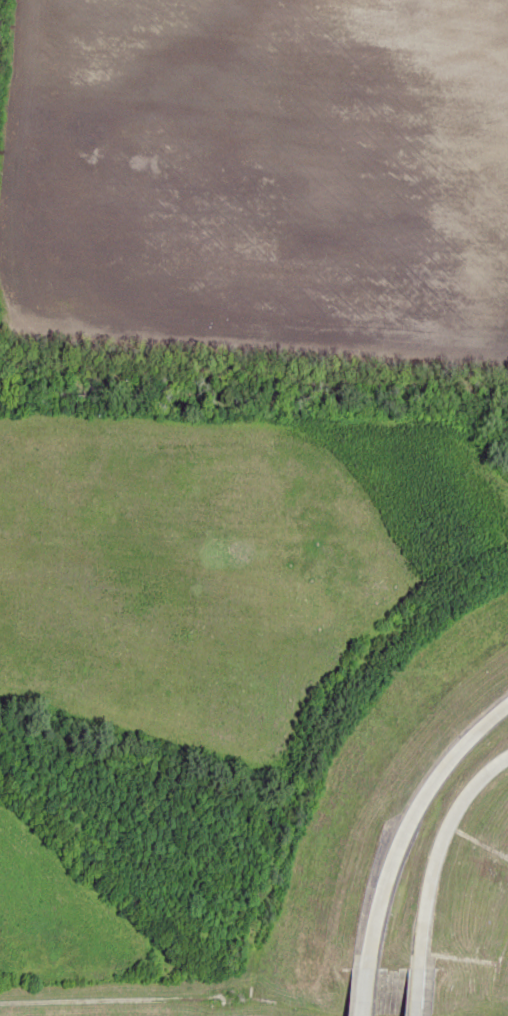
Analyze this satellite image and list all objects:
road: (400, 820)
road: (430, 847)
road: (412, 993)
road: (352, 994)

